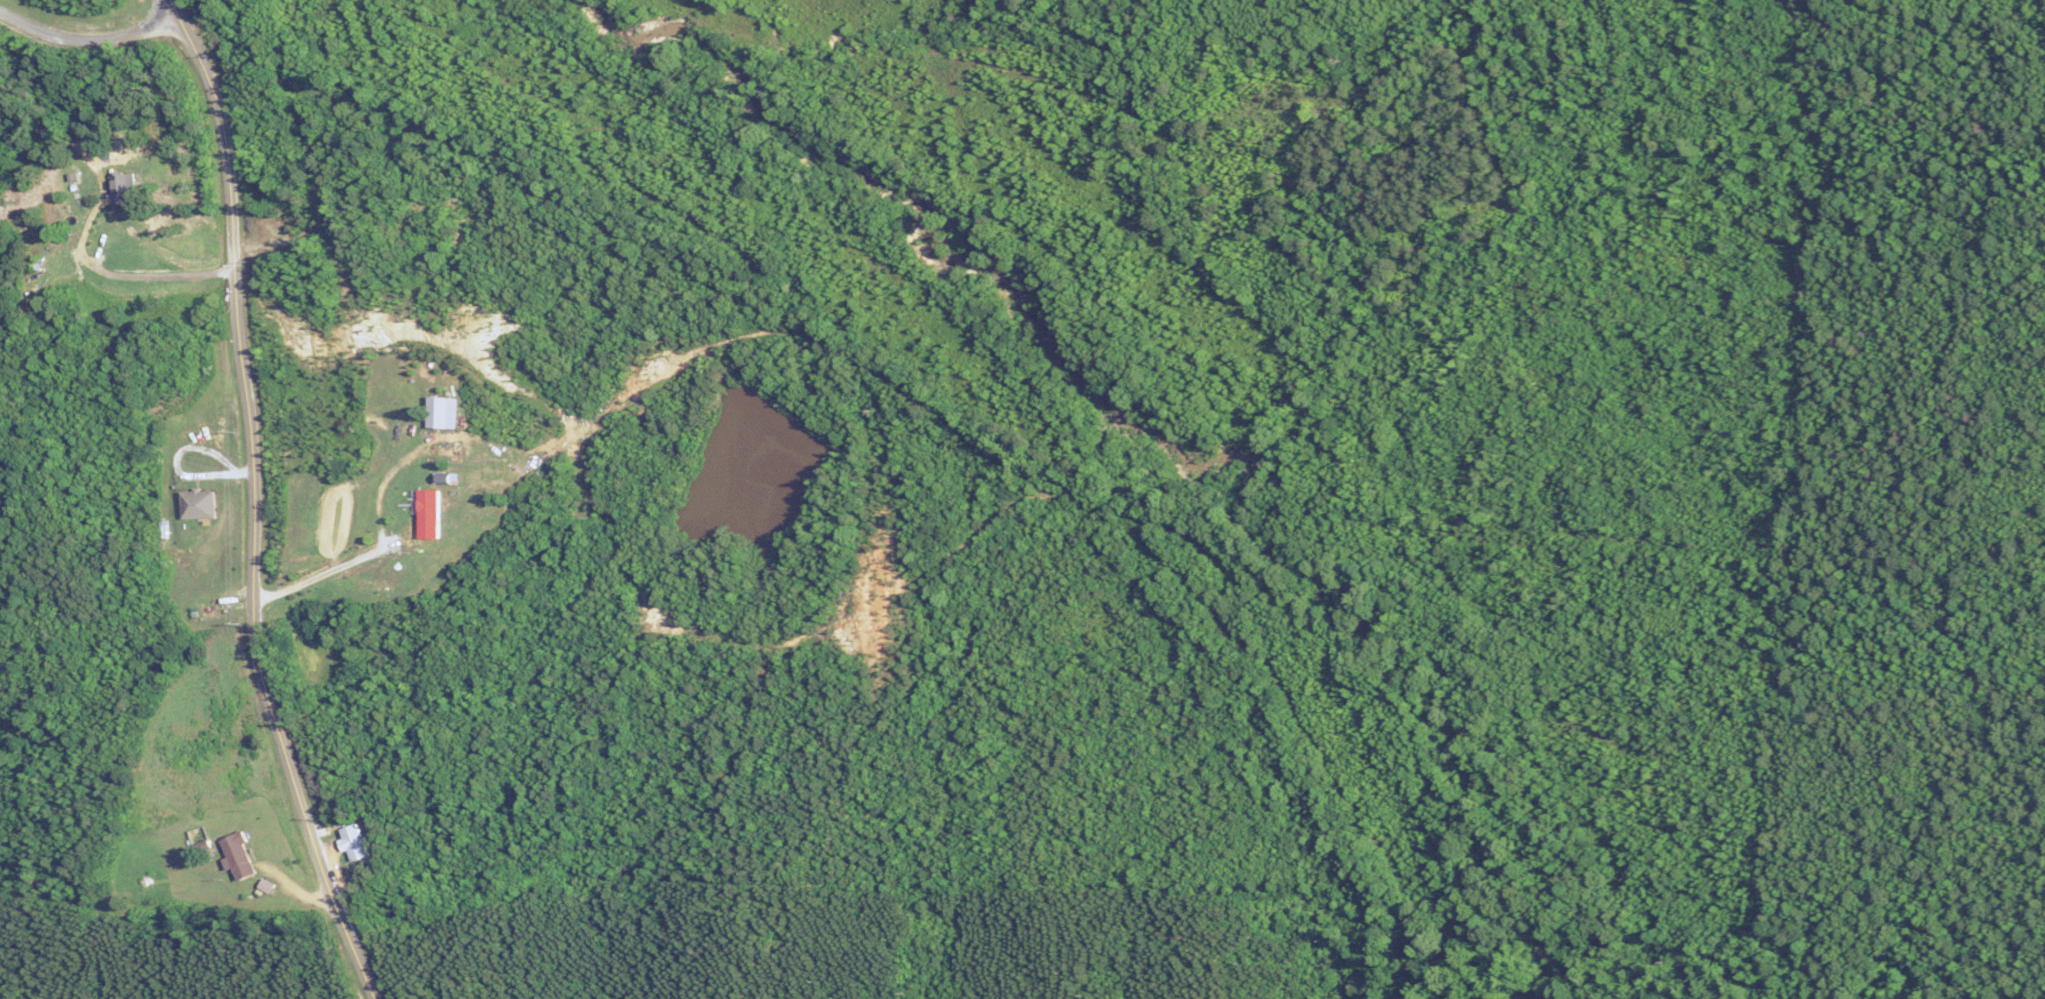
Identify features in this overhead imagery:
road: (85, 37)
building: (121, 187)
building: (292, 222)
road: (119, 277)
building: (447, 458)
road: (250, 503)
building: (435, 505)
road: (320, 572)
building: (369, 583)
building: (202, 609)
building: (351, 841)
building: (237, 855)

